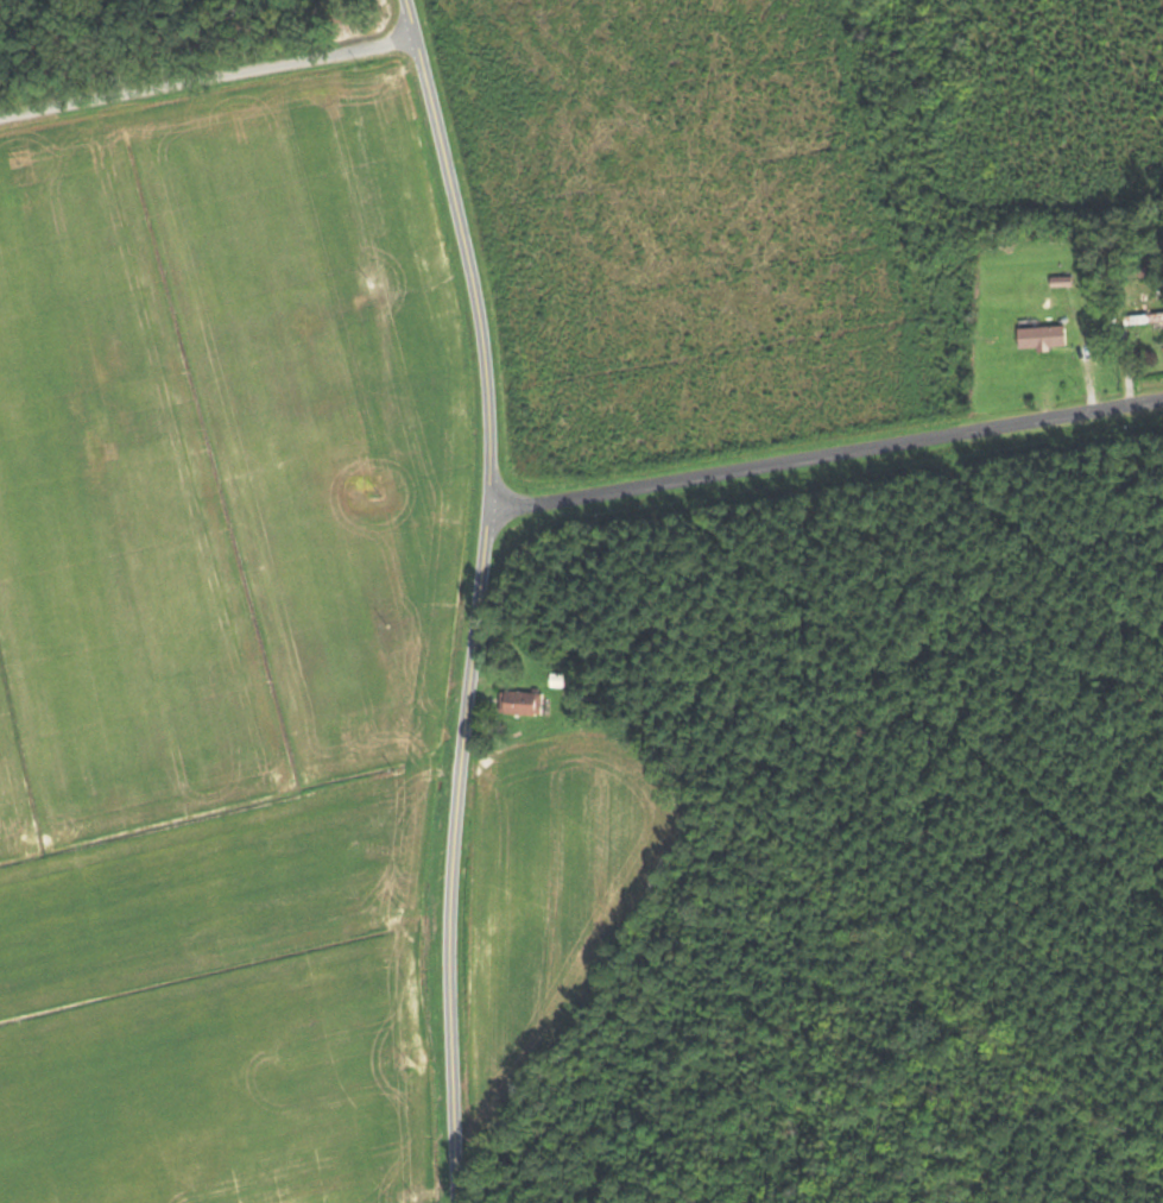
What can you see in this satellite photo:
road: (207, 86)
building: (1145, 319)
building: (1048, 340)
road: (821, 458)
road: (478, 598)
building: (524, 703)

